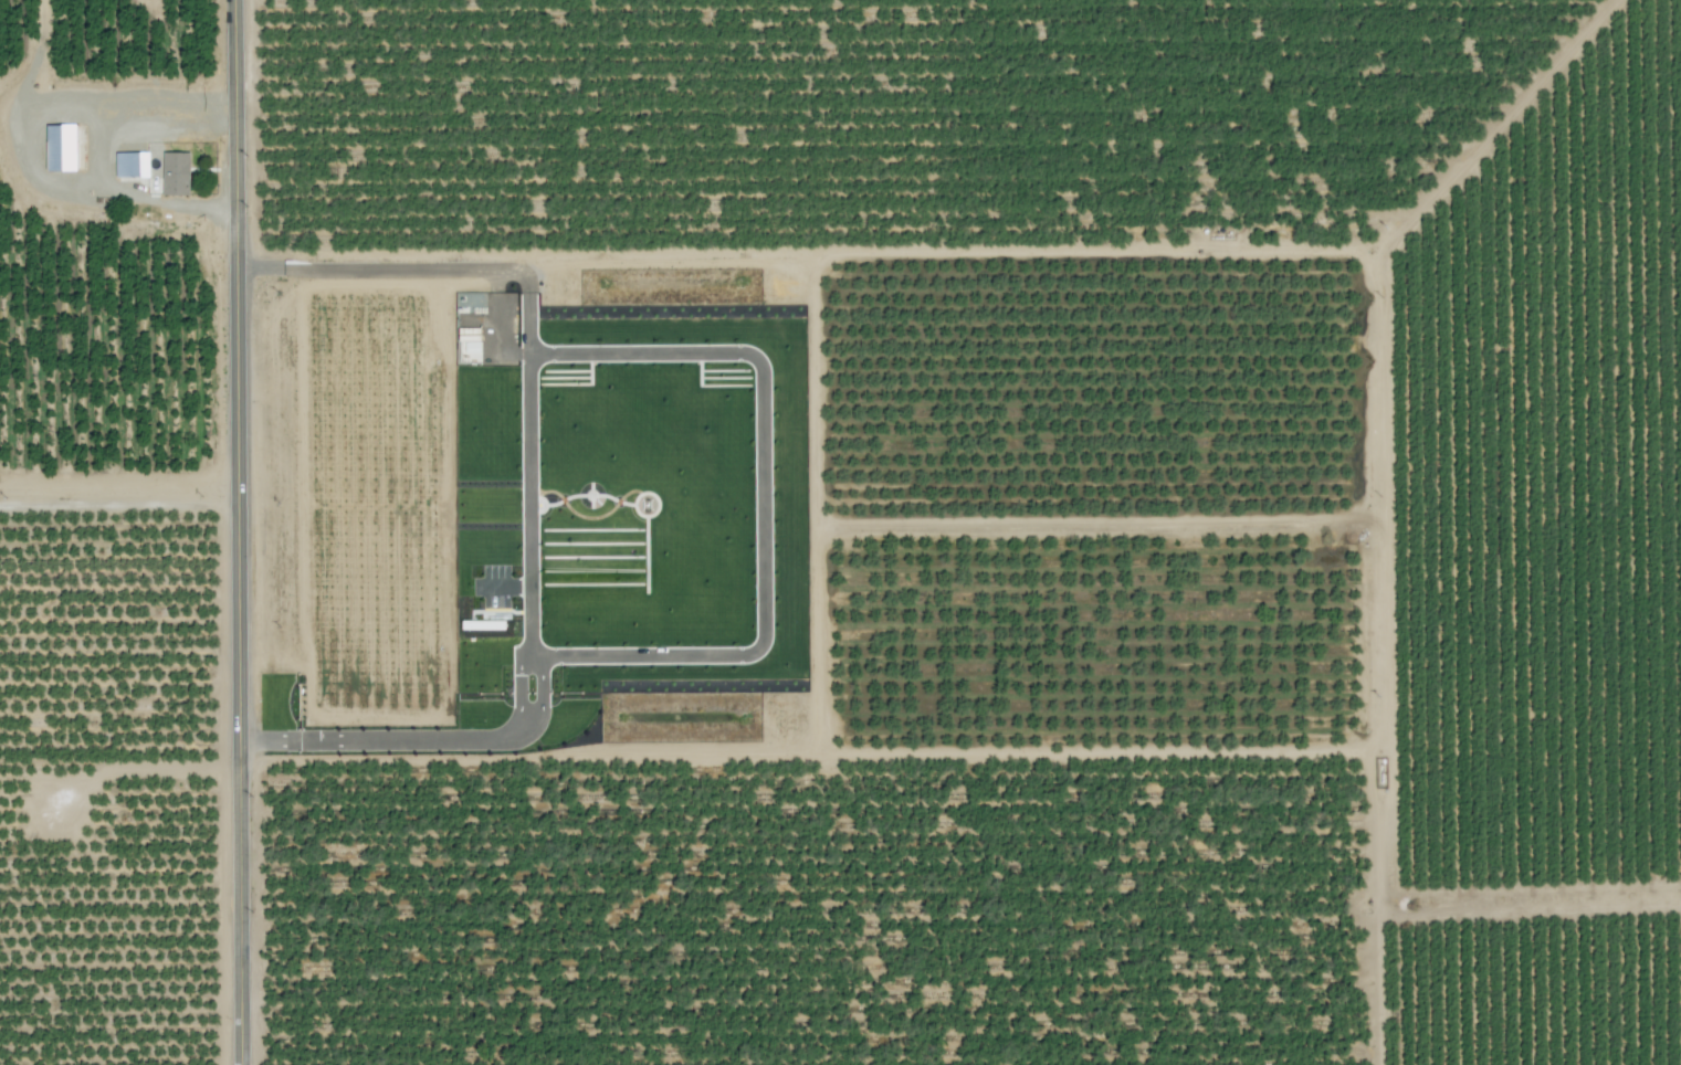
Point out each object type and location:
road: (15, 137)
building: (61, 148)
building: (132, 165)
building: (176, 173)
road: (423, 270)
road: (529, 470)
road: (122, 491)
road: (763, 505)
road: (244, 531)
road: (505, 586)
road: (530, 621)
road: (519, 688)
road: (539, 689)
road: (390, 741)

